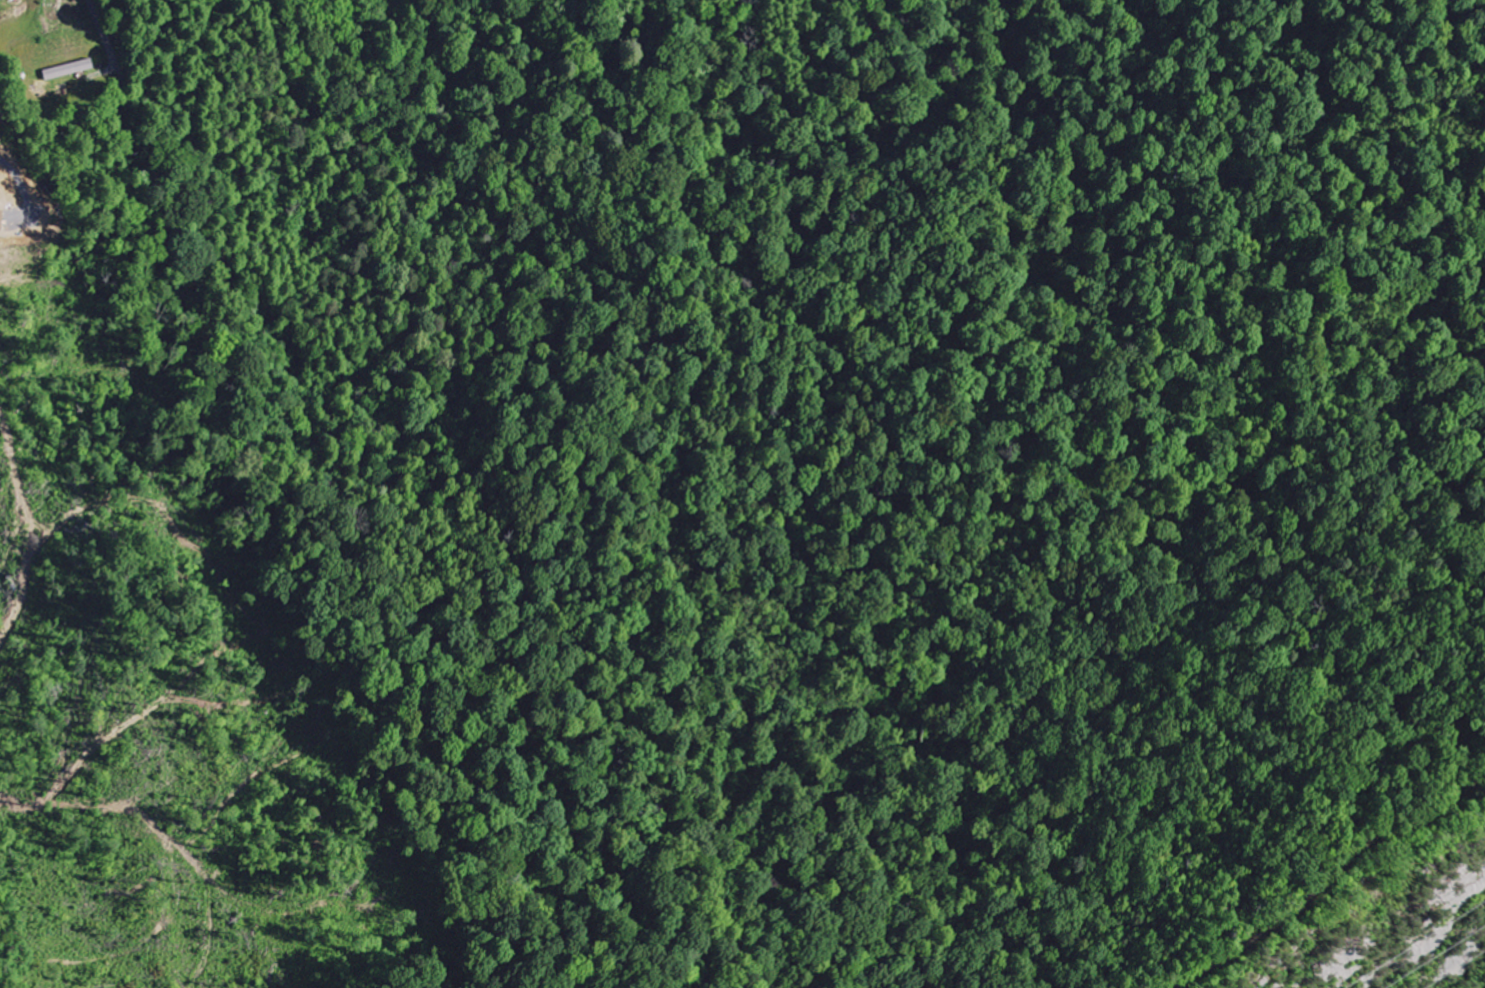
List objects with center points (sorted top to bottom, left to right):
building: (11, 0)
building: (67, 70)
building: (0, 220)

